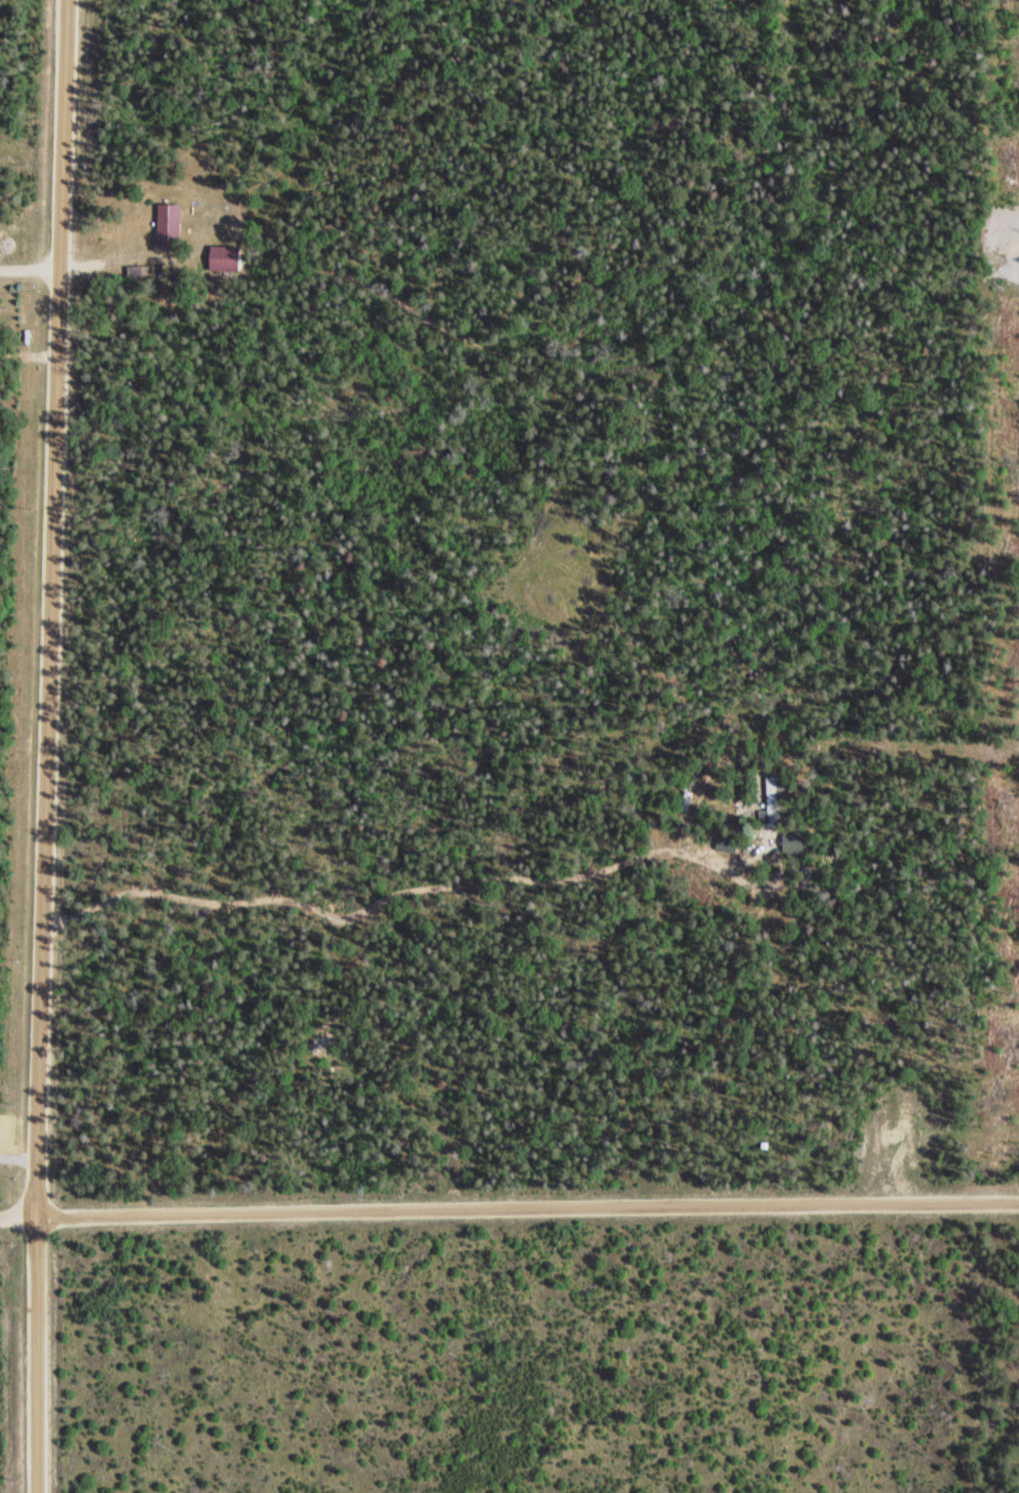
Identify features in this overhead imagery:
building: (166, 225)
building: (222, 258)
road: (29, 269)
road: (894, 737)
road: (48, 746)
building: (770, 801)
road: (18, 1158)
road: (509, 1209)

